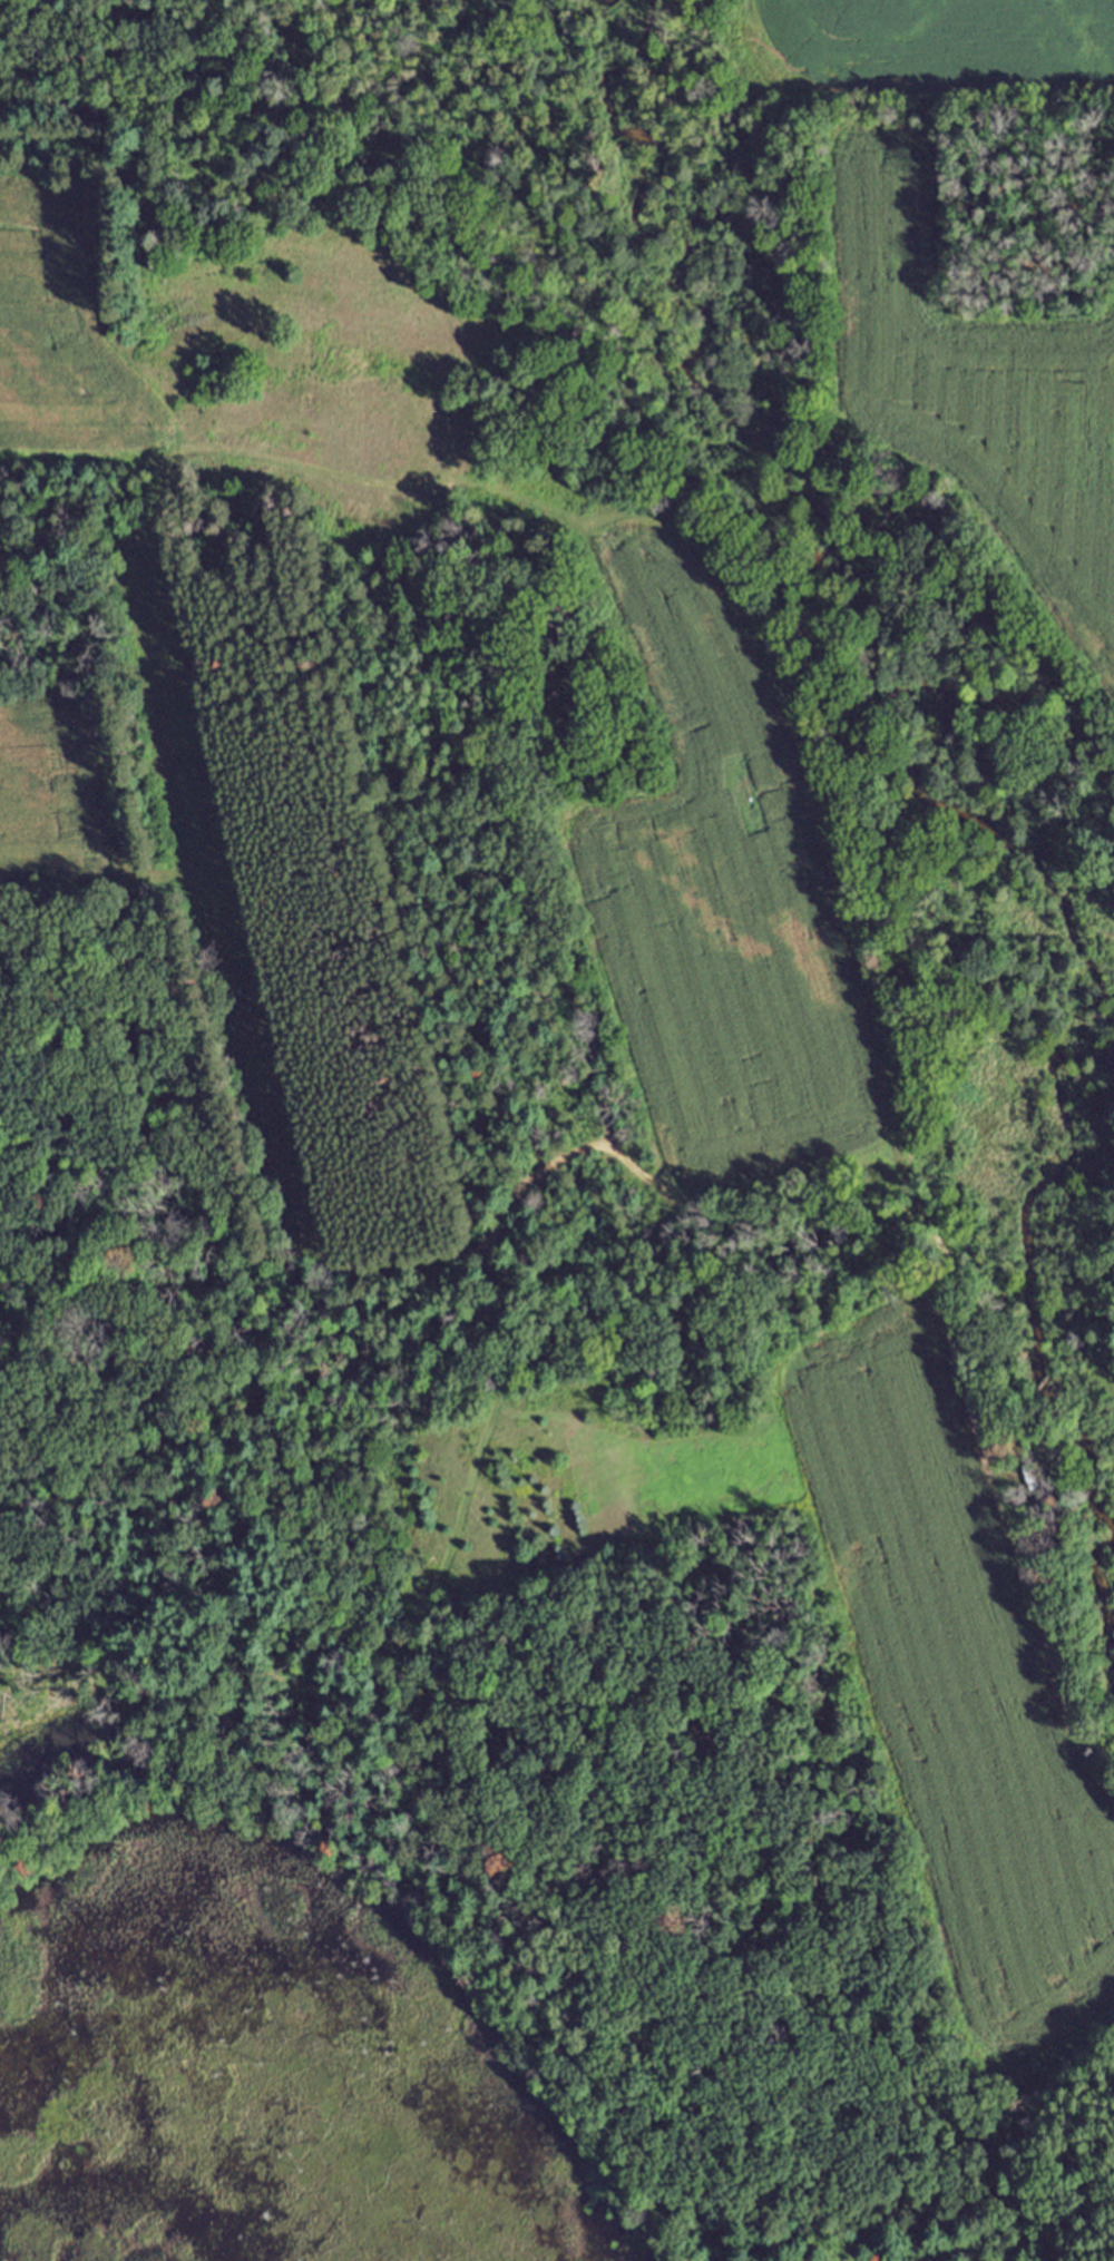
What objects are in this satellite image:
road: (979, 529)

